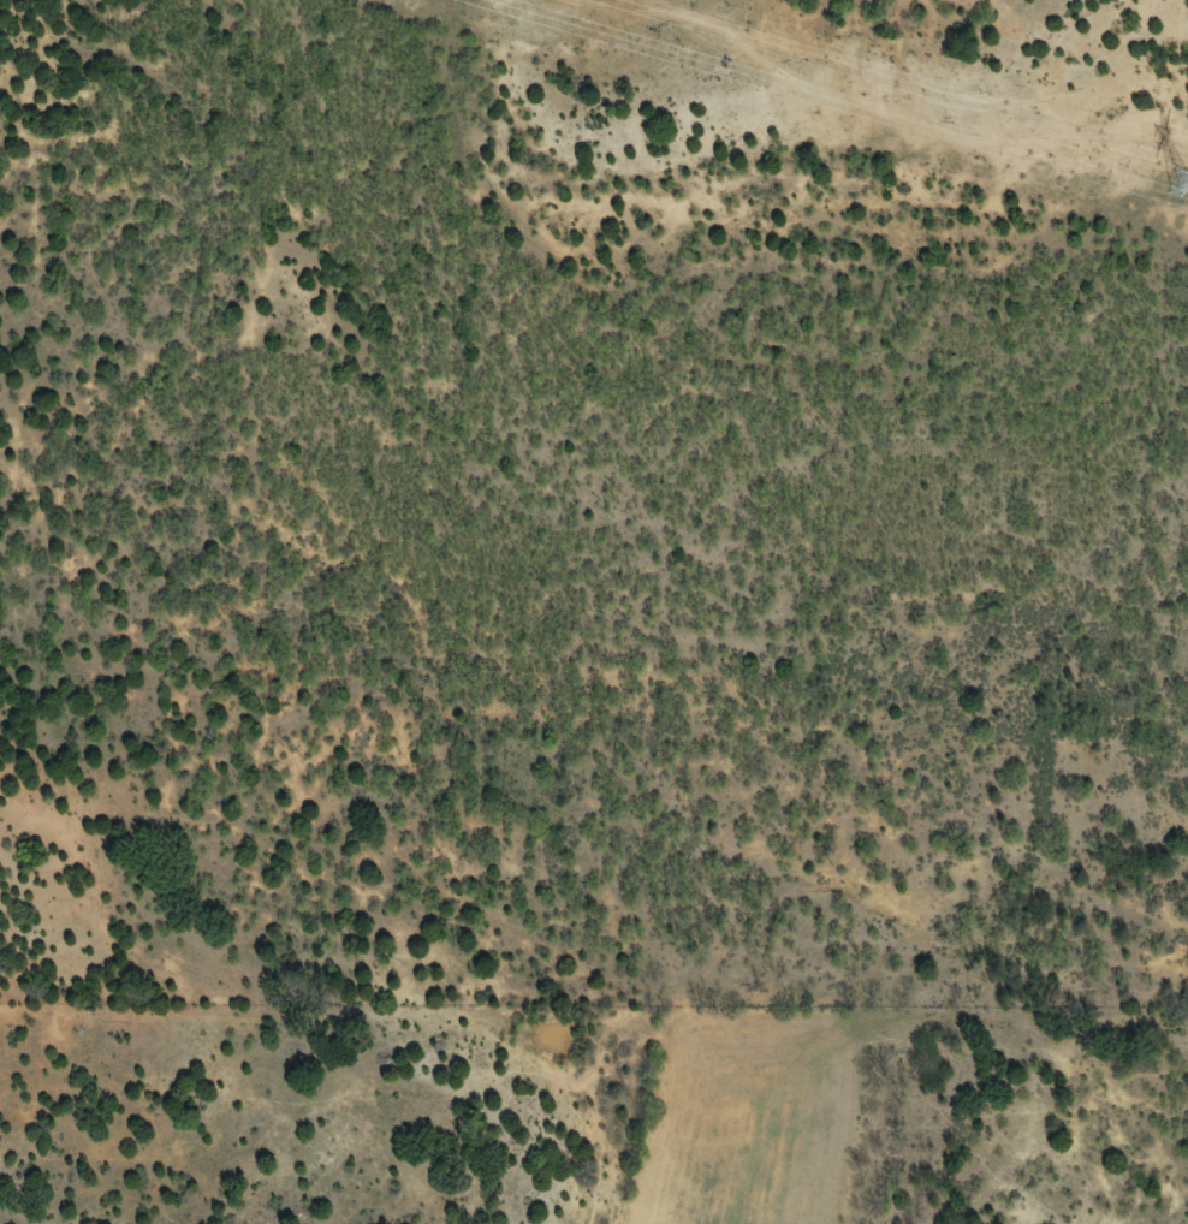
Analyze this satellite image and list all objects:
power tower: (1176, 182)

